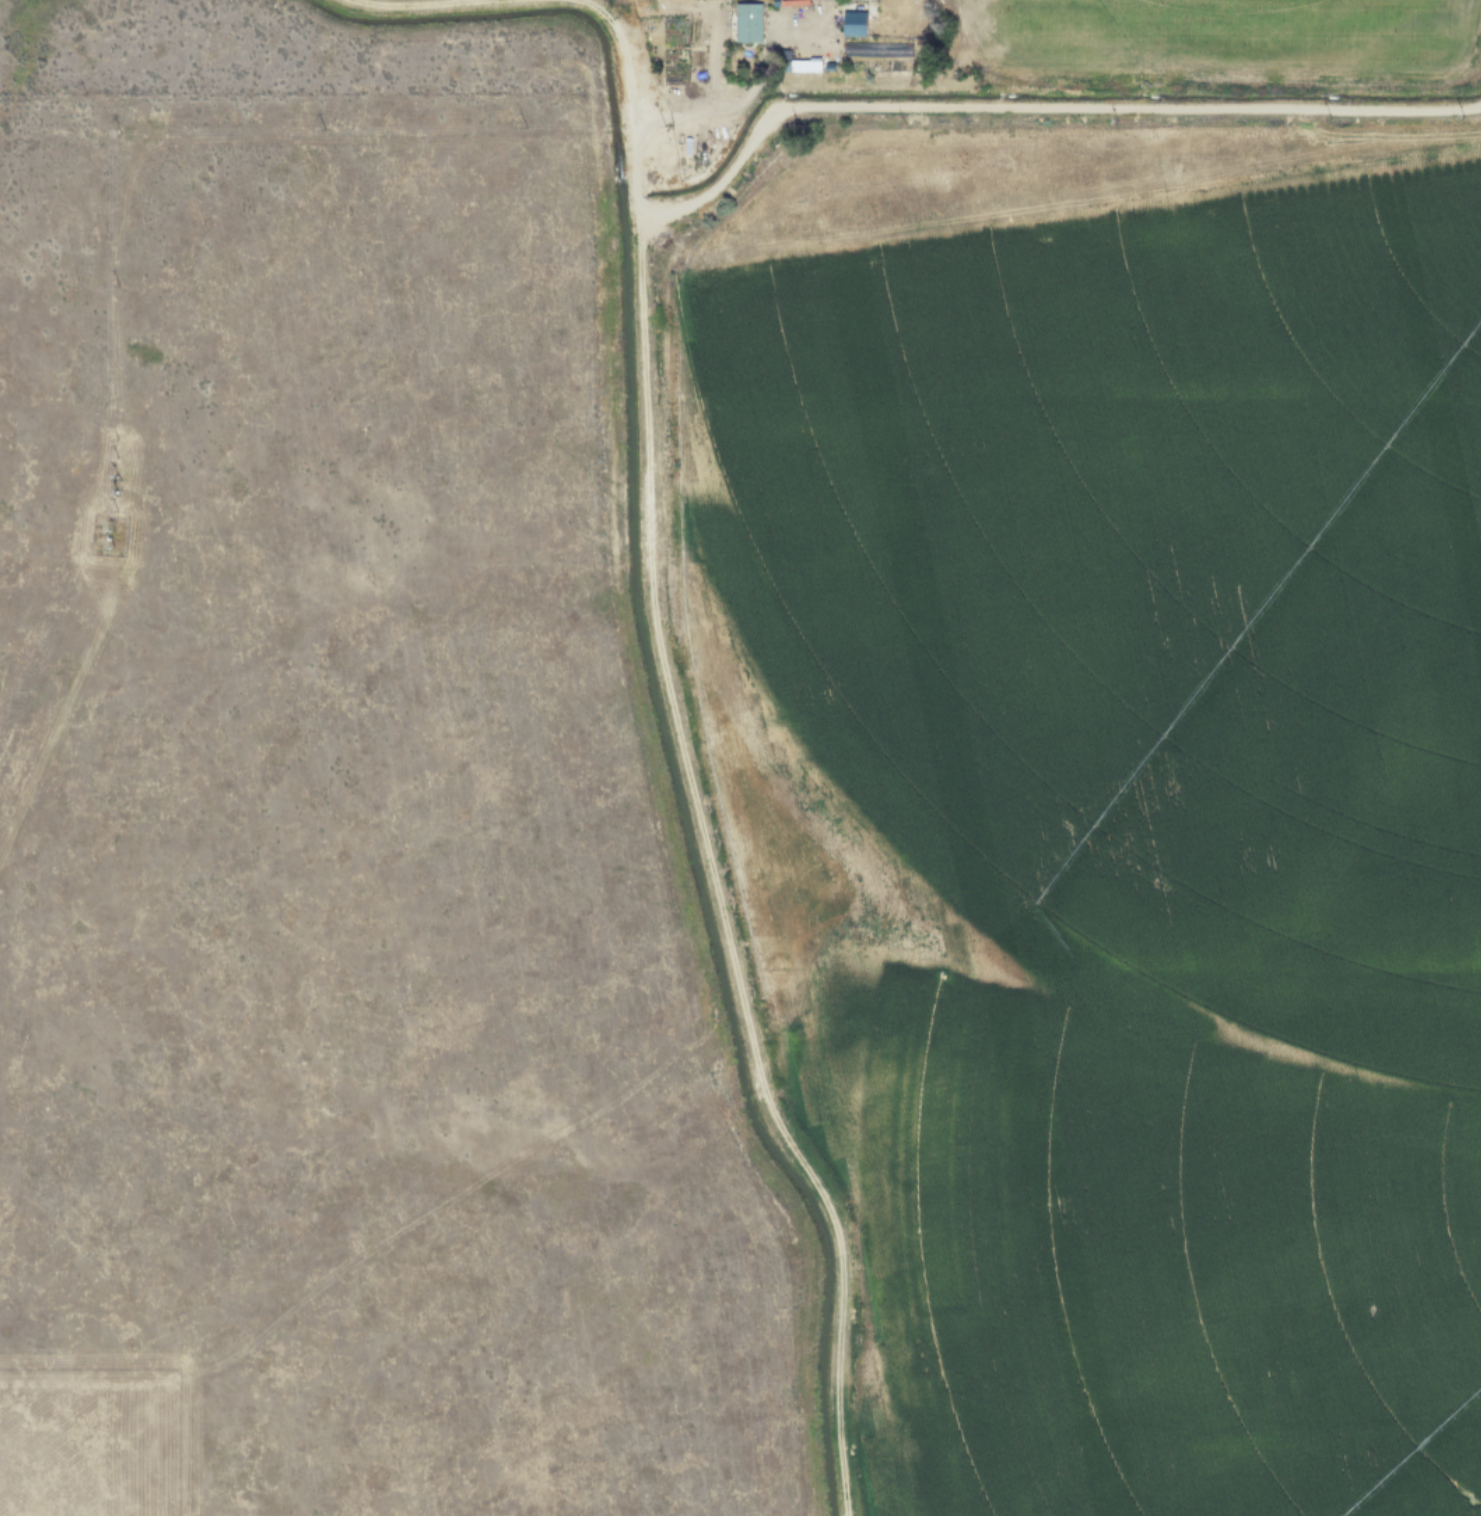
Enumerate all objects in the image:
road: (415, 4)
building: (747, 23)
building: (853, 26)
building: (803, 66)
road: (708, 105)
road: (922, 105)
crop: (1142, 820)
solar farm: (91, 1443)

